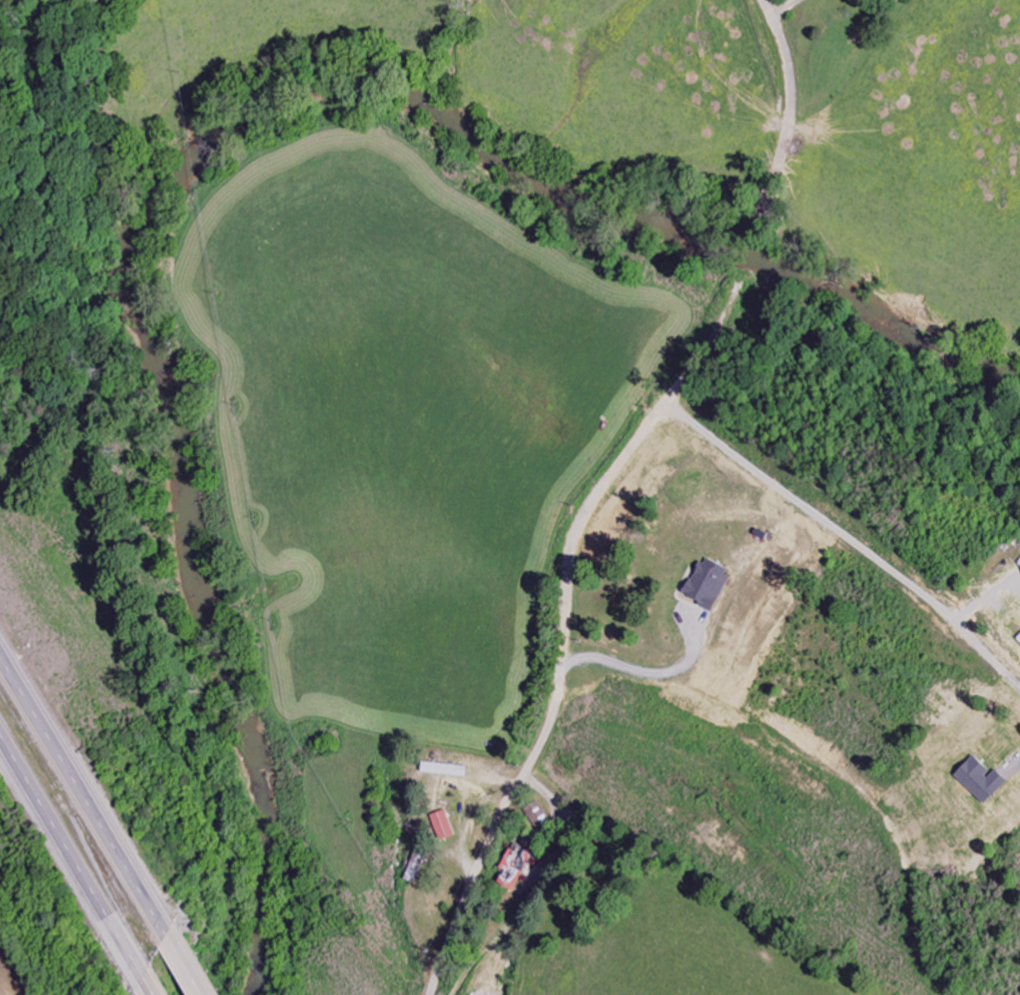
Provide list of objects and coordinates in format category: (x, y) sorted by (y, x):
road: (787, 117)
building: (706, 583)
building: (1018, 638)
building: (979, 780)
road: (86, 789)
building: (537, 812)
building: (442, 825)
road: (73, 855)
road: (189, 966)
road: (152, 987)

